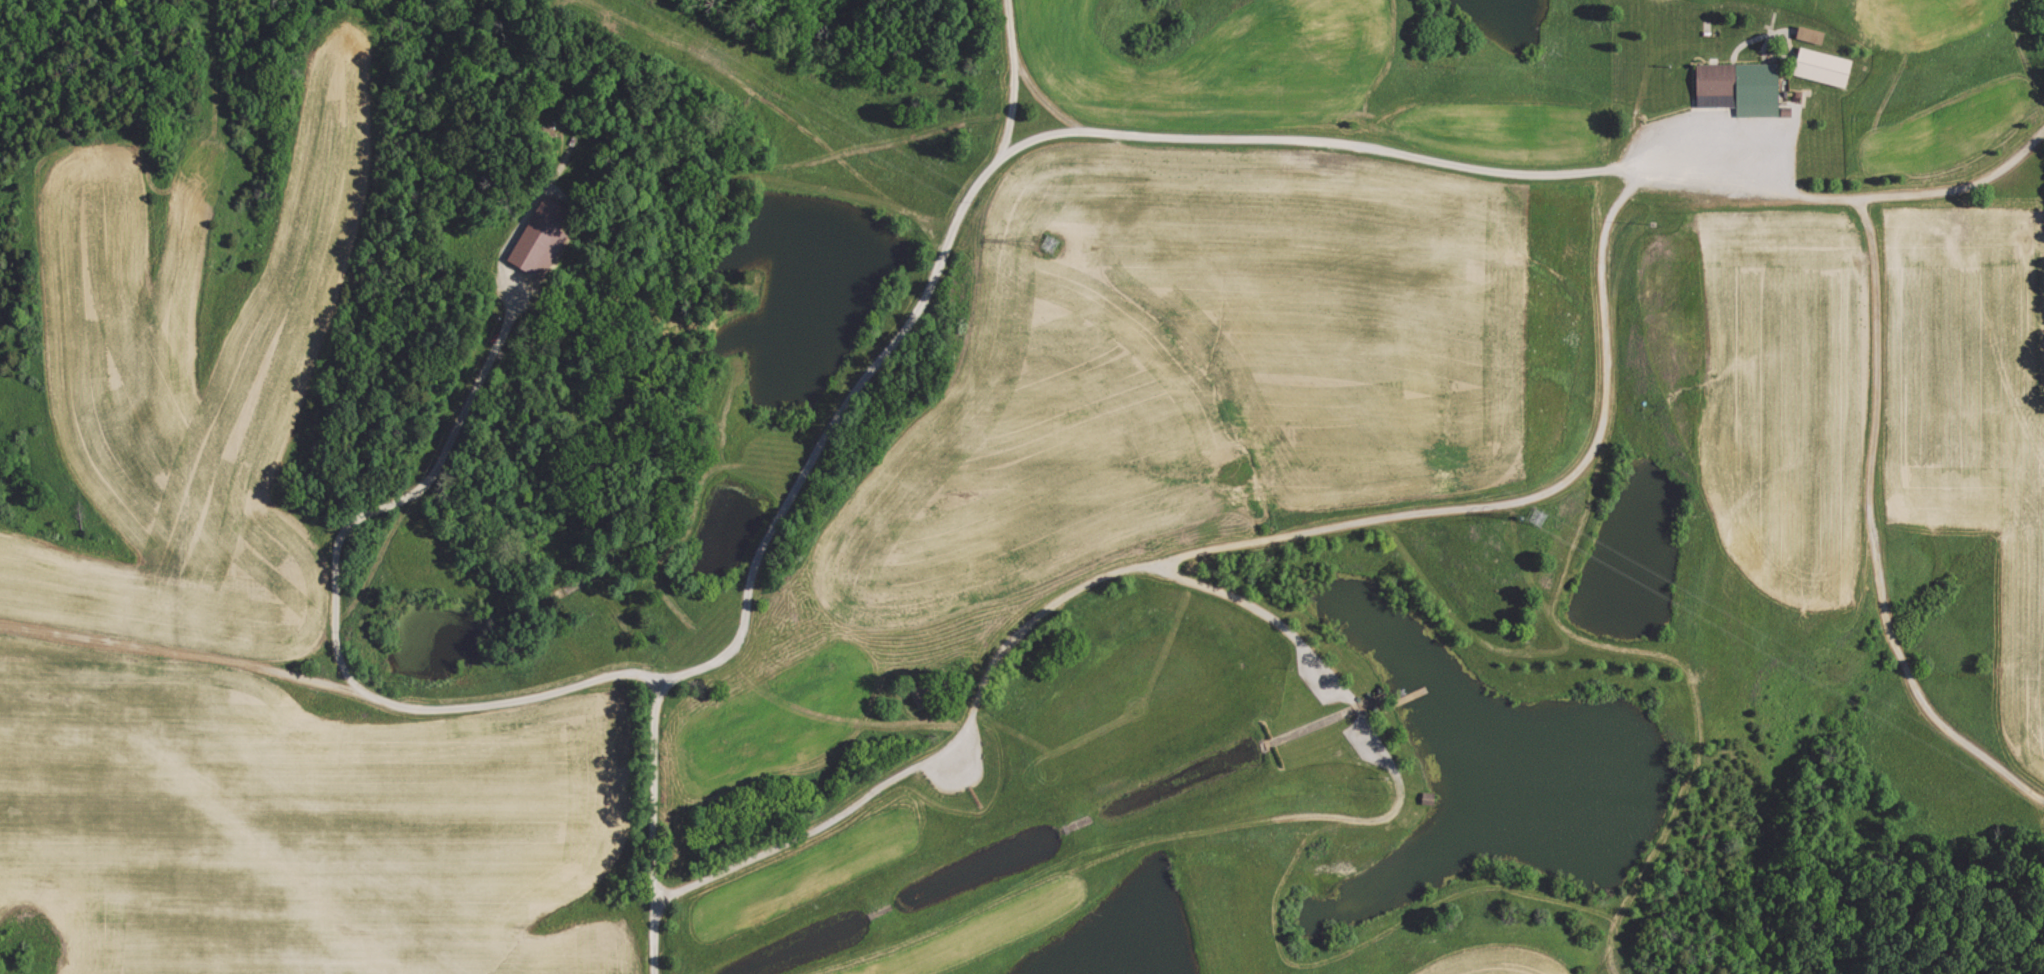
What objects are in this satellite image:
building: (1828, 68)
road: (1016, 73)
road: (1854, 198)
power tower: (1036, 235)
building: (544, 238)
road: (932, 282)
power tower: (1536, 513)
road: (1871, 526)
road: (1220, 547)
road: (180, 647)
road: (655, 821)

